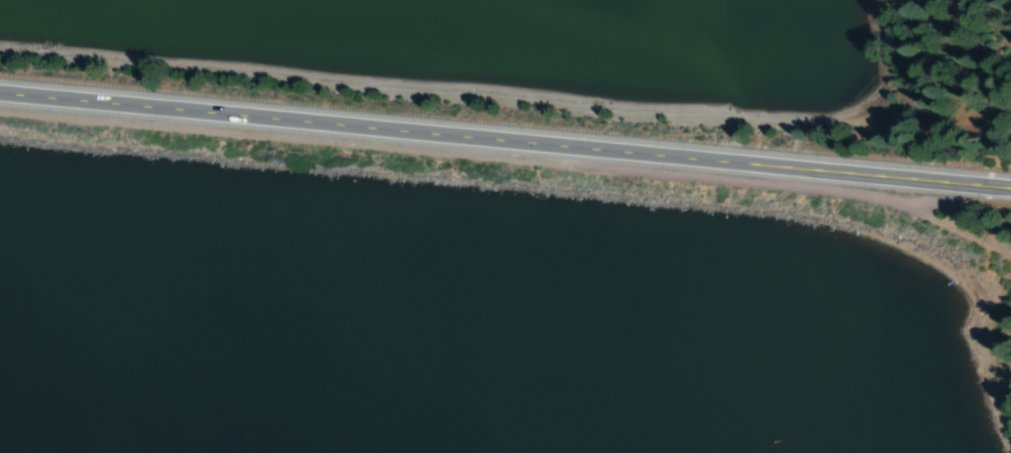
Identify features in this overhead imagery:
road: (464, 141)
railway: (440, 155)
road: (970, 184)
railway: (946, 226)

